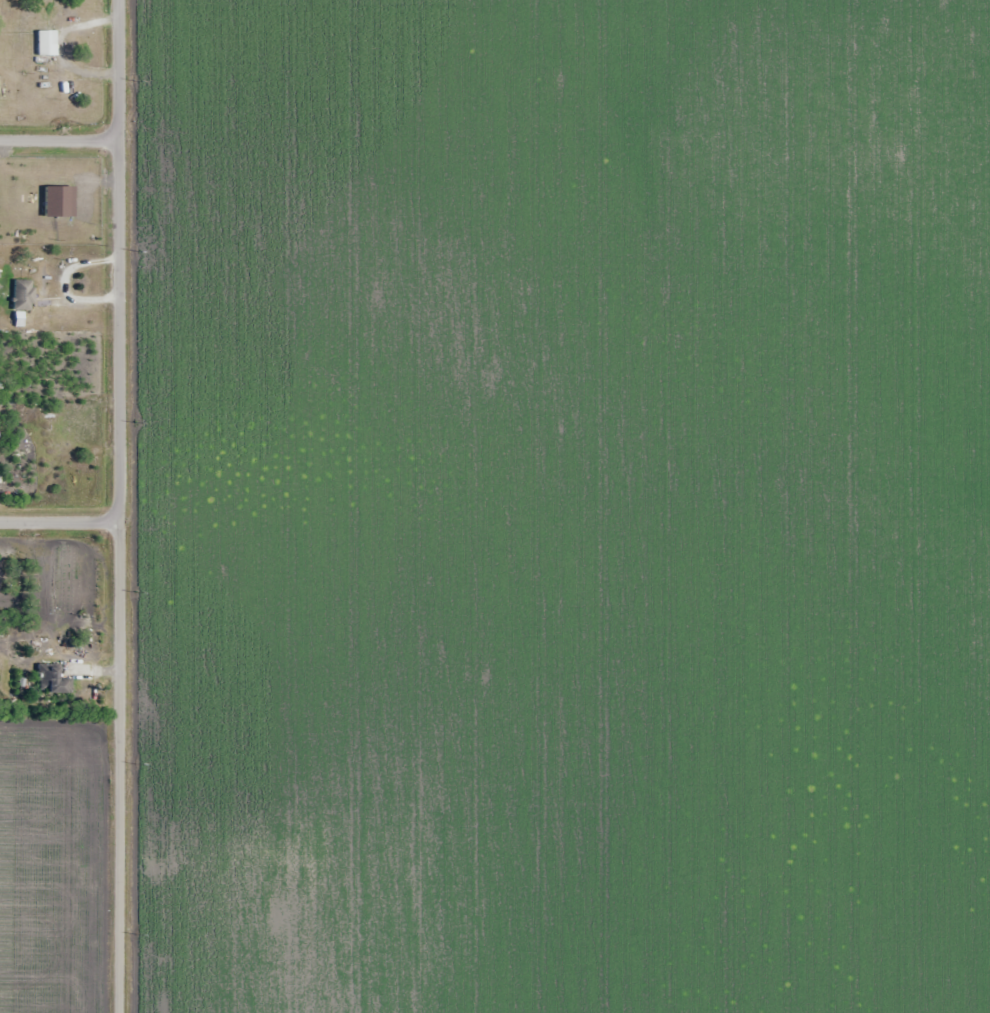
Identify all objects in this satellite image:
building: (47, 43)
road: (62, 141)
building: (23, 295)
road: (126, 506)
road: (63, 525)
building: (53, 680)

